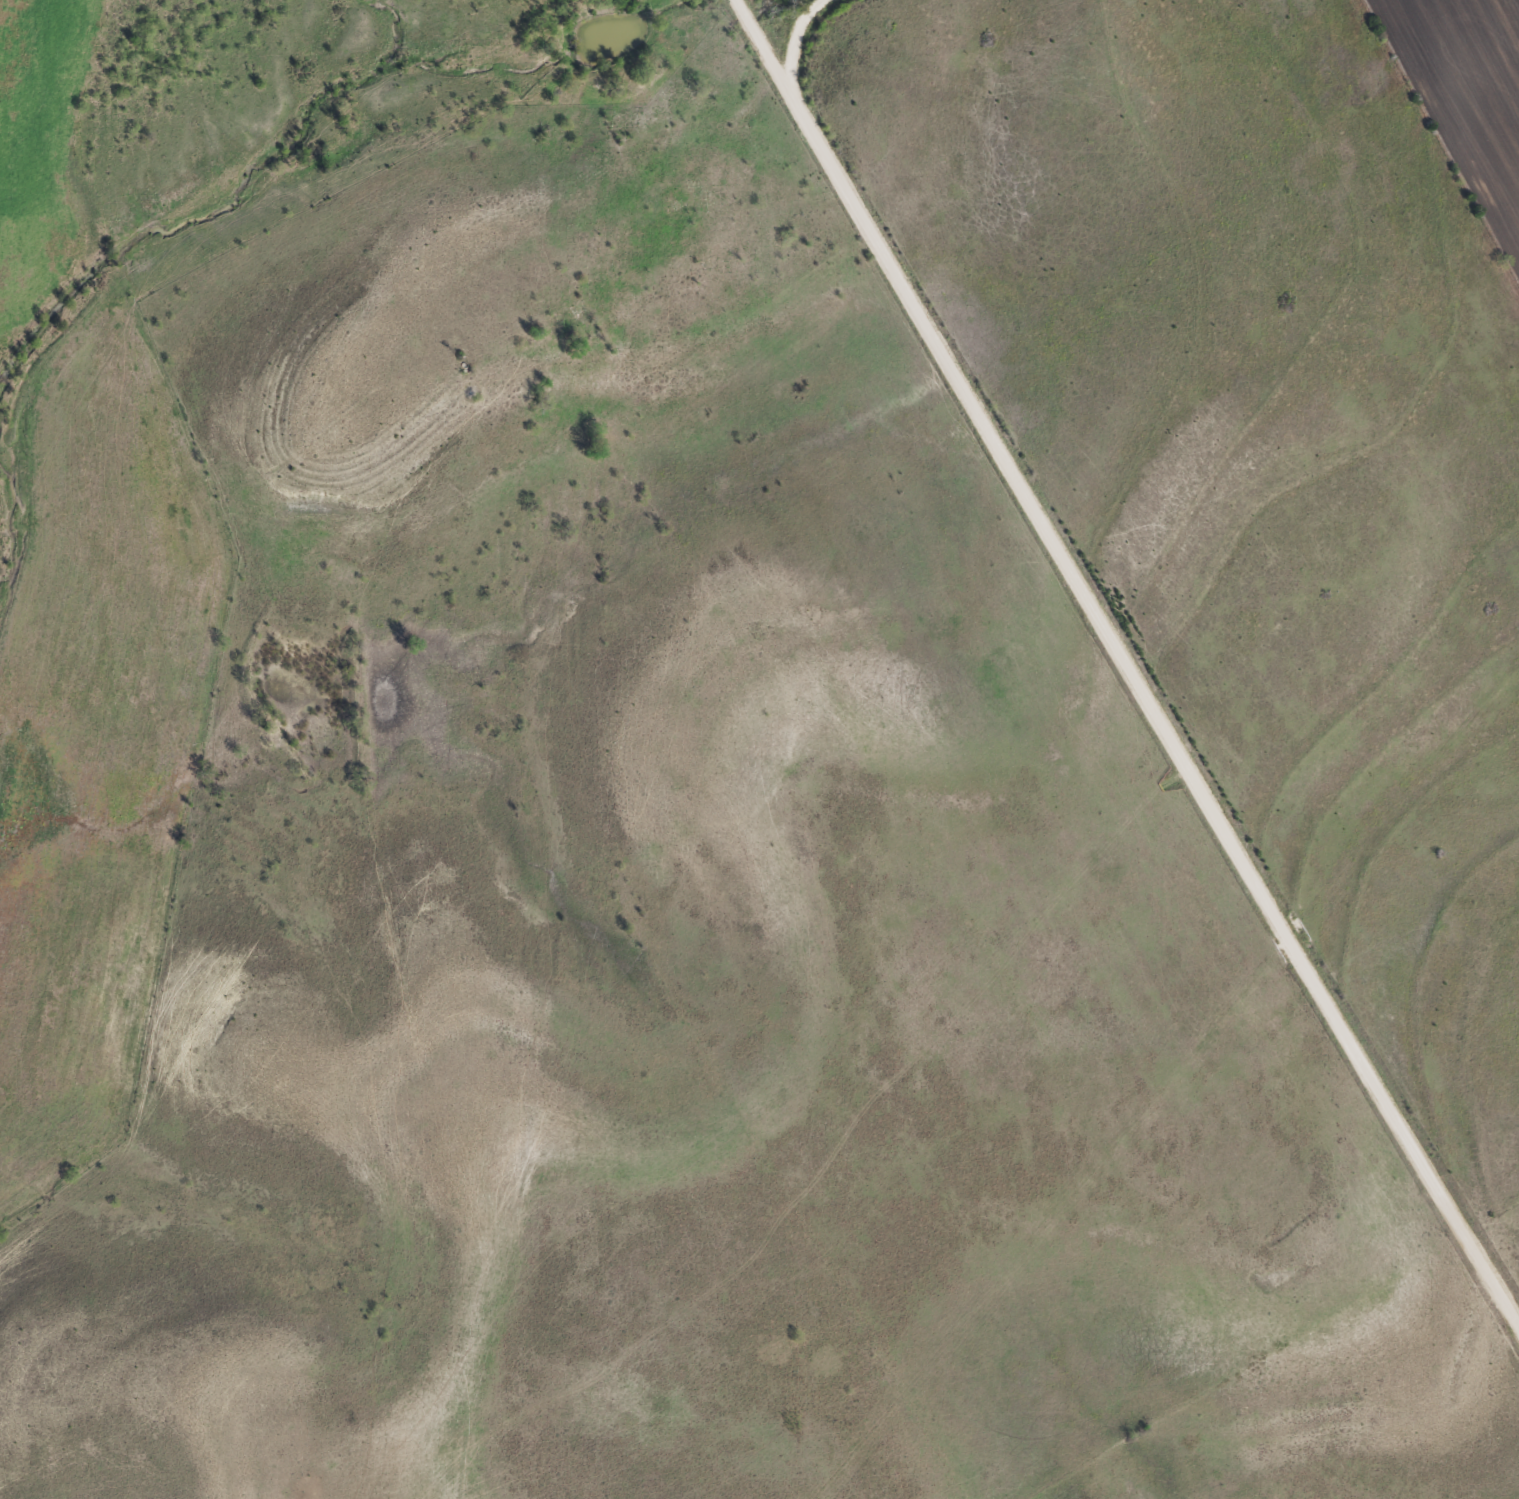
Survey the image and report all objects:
road: (795, 39)
road: (1118, 669)

